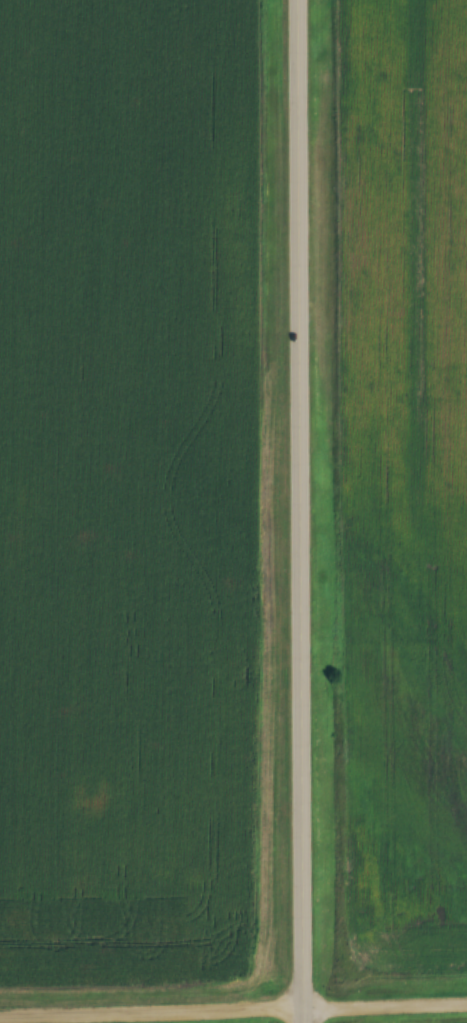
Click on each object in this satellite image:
road: (299, 511)
road: (233, 1013)

